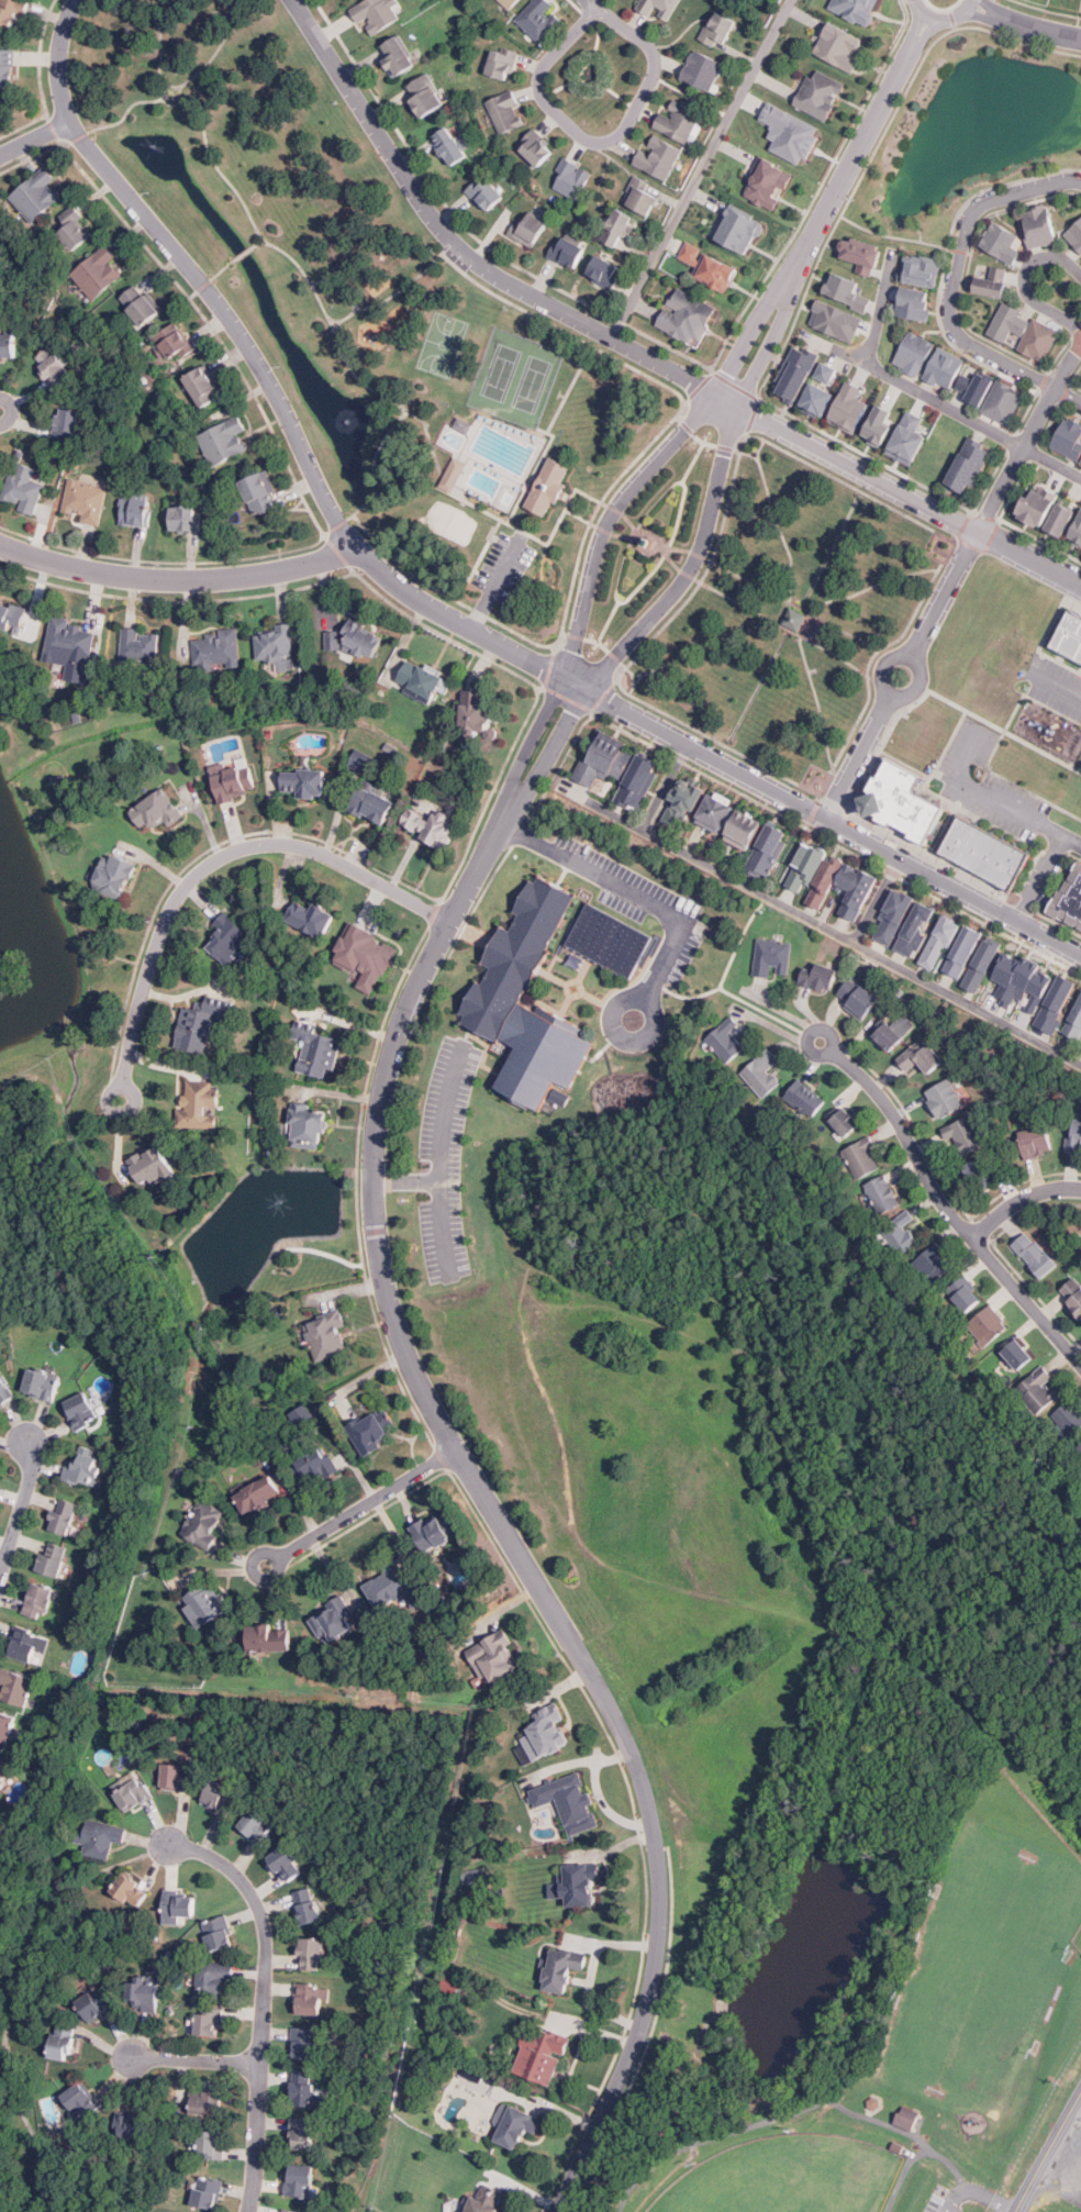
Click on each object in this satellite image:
building: (510, 3)
road: (595, 5)
building: (659, 9)
building: (856, 9)
building: (376, 12)
building: (12, 13)
building: (539, 18)
road: (943, 21)
road: (1024, 25)
building: (718, 29)
building: (840, 46)
building: (397, 55)
building: (504, 60)
building: (7, 68)
building: (702, 69)
road: (171, 84)
road: (171, 87)
road: (165, 89)
road: (178, 89)
building: (820, 93)
road: (171, 95)
building: (425, 95)
road: (170, 101)
building: (505, 111)
road: (197, 112)
building: (678, 120)
road: (33, 133)
building: (791, 133)
road: (868, 138)
road: (602, 144)
building: (449, 145)
building: (536, 147)
fountain: (152, 149)
building: (658, 156)
road: (701, 169)
building: (571, 178)
building: (769, 184)
building: (486, 193)
building: (36, 194)
building: (642, 194)
park: (285, 219)
building: (1040, 225)
building: (618, 226)
building: (74, 227)
building: (528, 230)
building: (740, 230)
building: (1, 231)
building: (1076, 234)
road: (255, 242)
building: (1002, 243)
building: (567, 251)
road: (241, 253)
building: (862, 254)
building: (1080, 263)
building: (710, 267)
building: (603, 269)
building: (922, 269)
road: (216, 271)
building: (100, 274)
road: (341, 275)
road: (957, 275)
road: (311, 279)
road: (1023, 281)
building: (991, 282)
road: (394, 288)
building: (849, 290)
building: (915, 302)
building: (140, 304)
road: (352, 307)
building: (687, 315)
road: (332, 316)
building: (835, 320)
building: (1025, 331)
park: (443, 341)
building: (174, 342)
building: (8, 345)
road: (636, 349)
building: (915, 353)
road: (347, 360)
building: (54, 367)
building: (945, 368)
road: (1068, 369)
building: (795, 373)
building: (817, 373)
building: (827, 373)
park: (517, 374)
building: (977, 386)
building: (202, 387)
road: (923, 394)
road: (1068, 396)
building: (818, 398)
building: (1004, 400)
building: (850, 408)
fountain: (344, 416)
building: (66, 423)
building: (461, 423)
building: (880, 425)
building: (909, 438)
building: (1069, 438)
building: (223, 441)
building: (1080, 460)
building: (969, 465)
road: (374, 467)
building: (452, 471)
building: (549, 485)
building: (23, 488)
building: (258, 493)
building: (85, 500)
building: (1038, 504)
building: (135, 512)
park: (452, 514)
road: (615, 516)
building: (185, 519)
building: (1061, 520)
road: (983, 523)
building: (1078, 532)
road: (694, 559)
road: (178, 580)
road: (494, 583)
road: (430, 607)
building: (12, 616)
building: (788, 619)
park: (789, 619)
building: (1071, 631)
building: (71, 641)
building: (356, 641)
building: (140, 645)
building: (276, 645)
building: (216, 649)
road: (922, 666)
building: (423, 680)
road: (1058, 683)
building: (475, 710)
road: (1001, 727)
road: (858, 757)
building: (605, 759)
building: (638, 781)
building: (234, 782)
building: (303, 782)
road: (987, 797)
building: (900, 800)
building: (682, 803)
building: (372, 804)
building: (157, 810)
building: (716, 813)
building: (432, 824)
building: (745, 830)
building: (985, 849)
building: (769, 851)
road: (215, 859)
building: (806, 868)
road: (1045, 869)
building: (114, 876)
building: (826, 882)
road: (625, 885)
building: (857, 890)
building: (1070, 897)
road: (876, 900)
building: (894, 916)
building: (310, 919)
road: (823, 926)
building: (916, 929)
building: (227, 938)
building: (606, 938)
building: (940, 943)
building: (963, 952)
building: (772, 957)
building: (367, 958)
building: (981, 965)
road: (724, 972)
building: (820, 977)
road: (573, 981)
road: (571, 982)
building: (1023, 982)
building: (494, 991)
road: (616, 994)
building: (858, 998)
building: (1057, 1004)
road: (768, 1012)
building: (1074, 1023)
building: (201, 1024)
building: (895, 1031)
building: (726, 1040)
building: (317, 1049)
building: (922, 1056)
building: (762, 1072)
road: (135, 1094)
building: (805, 1097)
building: (945, 1099)
building: (201, 1101)
building: (834, 1119)
building: (846, 1122)
building: (308, 1126)
building: (965, 1133)
building: (1074, 1137)
building: (1037, 1142)
building: (861, 1157)
road: (441, 1163)
building: (152, 1167)
building: (979, 1174)
road: (405, 1181)
building: (883, 1193)
fountain: (278, 1198)
road: (1021, 1199)
road: (946, 1201)
building: (900, 1232)
building: (1035, 1254)
building: (934, 1261)
building: (966, 1294)
building: (1073, 1297)
building: (989, 1325)
building: (327, 1335)
building: (1018, 1354)
building: (42, 1383)
building: (4, 1389)
building: (1041, 1389)
building: (81, 1410)
building: (303, 1416)
building: (1068, 1418)
building: (372, 1430)
building: (1079, 1448)
building: (314, 1465)
building: (87, 1466)
building: (259, 1493)
road: (358, 1507)
road: (20, 1512)
building: (63, 1515)
road: (492, 1518)
building: (205, 1523)
building: (436, 1530)
building: (53, 1558)
building: (392, 1585)
building: (38, 1600)
building: (205, 1604)
building: (333, 1621)
building: (270, 1637)
building: (29, 1643)
building: (494, 1656)
building: (15, 1687)
building: (5, 1725)
building: (546, 1732)
building: (3, 1772)
building: (178, 1775)
building: (132, 1792)
building: (205, 1793)
building: (219, 1797)
building: (568, 1801)
building: (256, 1826)
building: (101, 1837)
road: (660, 1848)
building: (286, 1863)
building: (473, 1876)
building: (577, 1883)
building: (130, 1889)
building: (179, 1904)
building: (308, 1905)
building: (219, 1932)
building: (311, 1954)
building: (562, 1967)
park: (981, 1974)
building: (212, 1978)
park: (873, 1981)
building: (143, 1994)
road: (264, 1997)
building: (311, 1999)
building: (97, 2002)
building: (82, 2007)
building: (209, 2021)
road: (649, 2034)
building: (63, 2039)
building: (304, 2043)
building: (543, 2055)
road: (194, 2059)
building: (305, 2089)
building: (79, 2099)
building: (207, 2101)
road: (1078, 2113)
building: (907, 2117)
road: (766, 2121)
building: (515, 2124)
building: (132, 2125)
building: (303, 2133)
building: (211, 2143)
road: (588, 2150)
road: (1050, 2155)
road: (952, 2168)
road: (613, 2171)
road: (902, 2175)
park: (788, 2177)
building: (299, 2179)
building: (207, 2191)
road: (983, 2196)
building: (484, 2201)
parking lot: (941, 2205)
road: (948, 2207)
building: (290, 2210)

